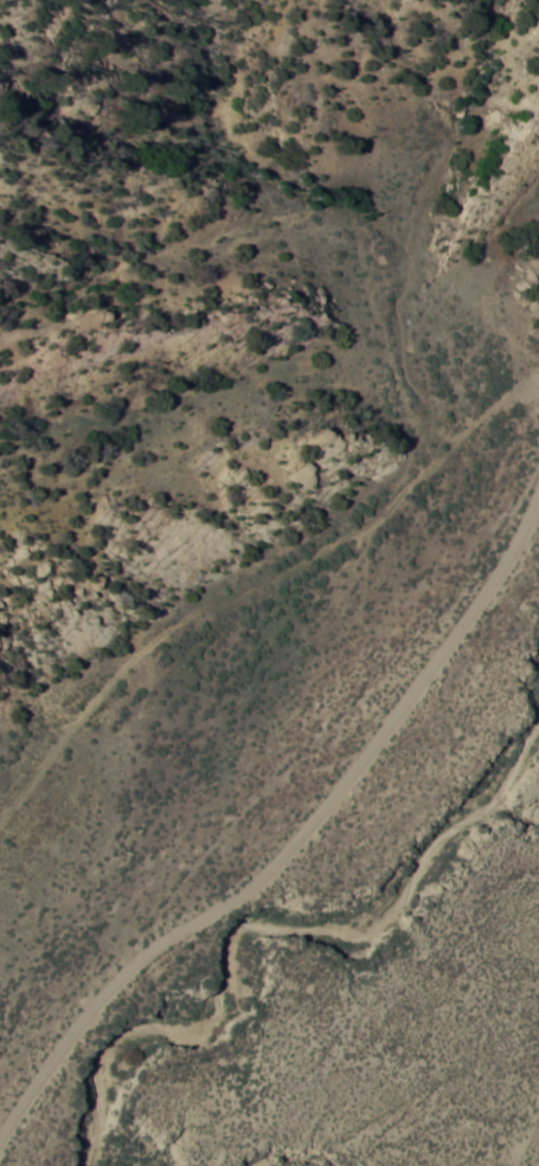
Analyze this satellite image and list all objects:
road: (307, 777)

